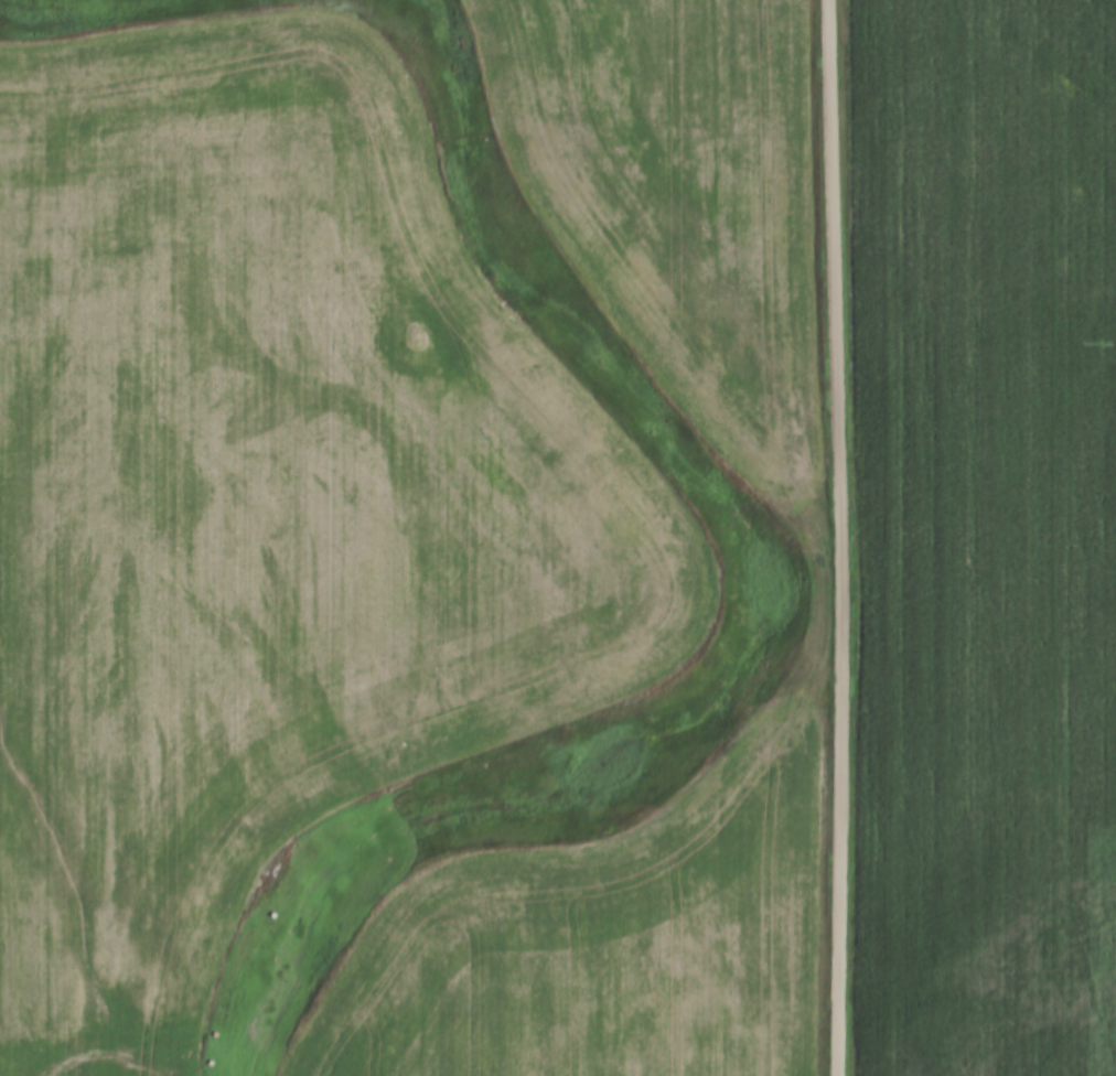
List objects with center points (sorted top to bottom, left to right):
road: (838, 537)

